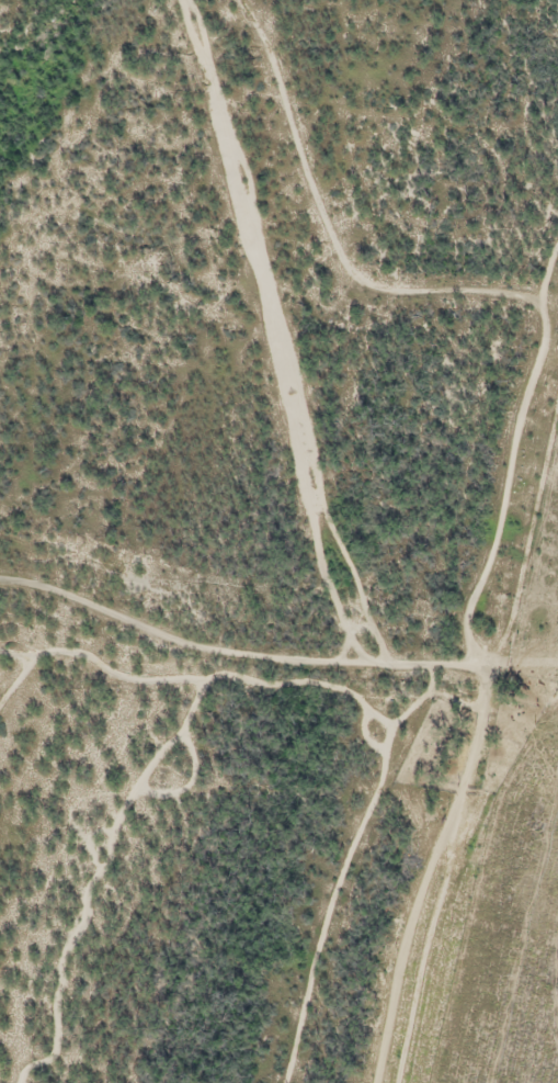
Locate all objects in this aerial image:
road: (241, 646)
road: (525, 658)
road: (440, 870)

